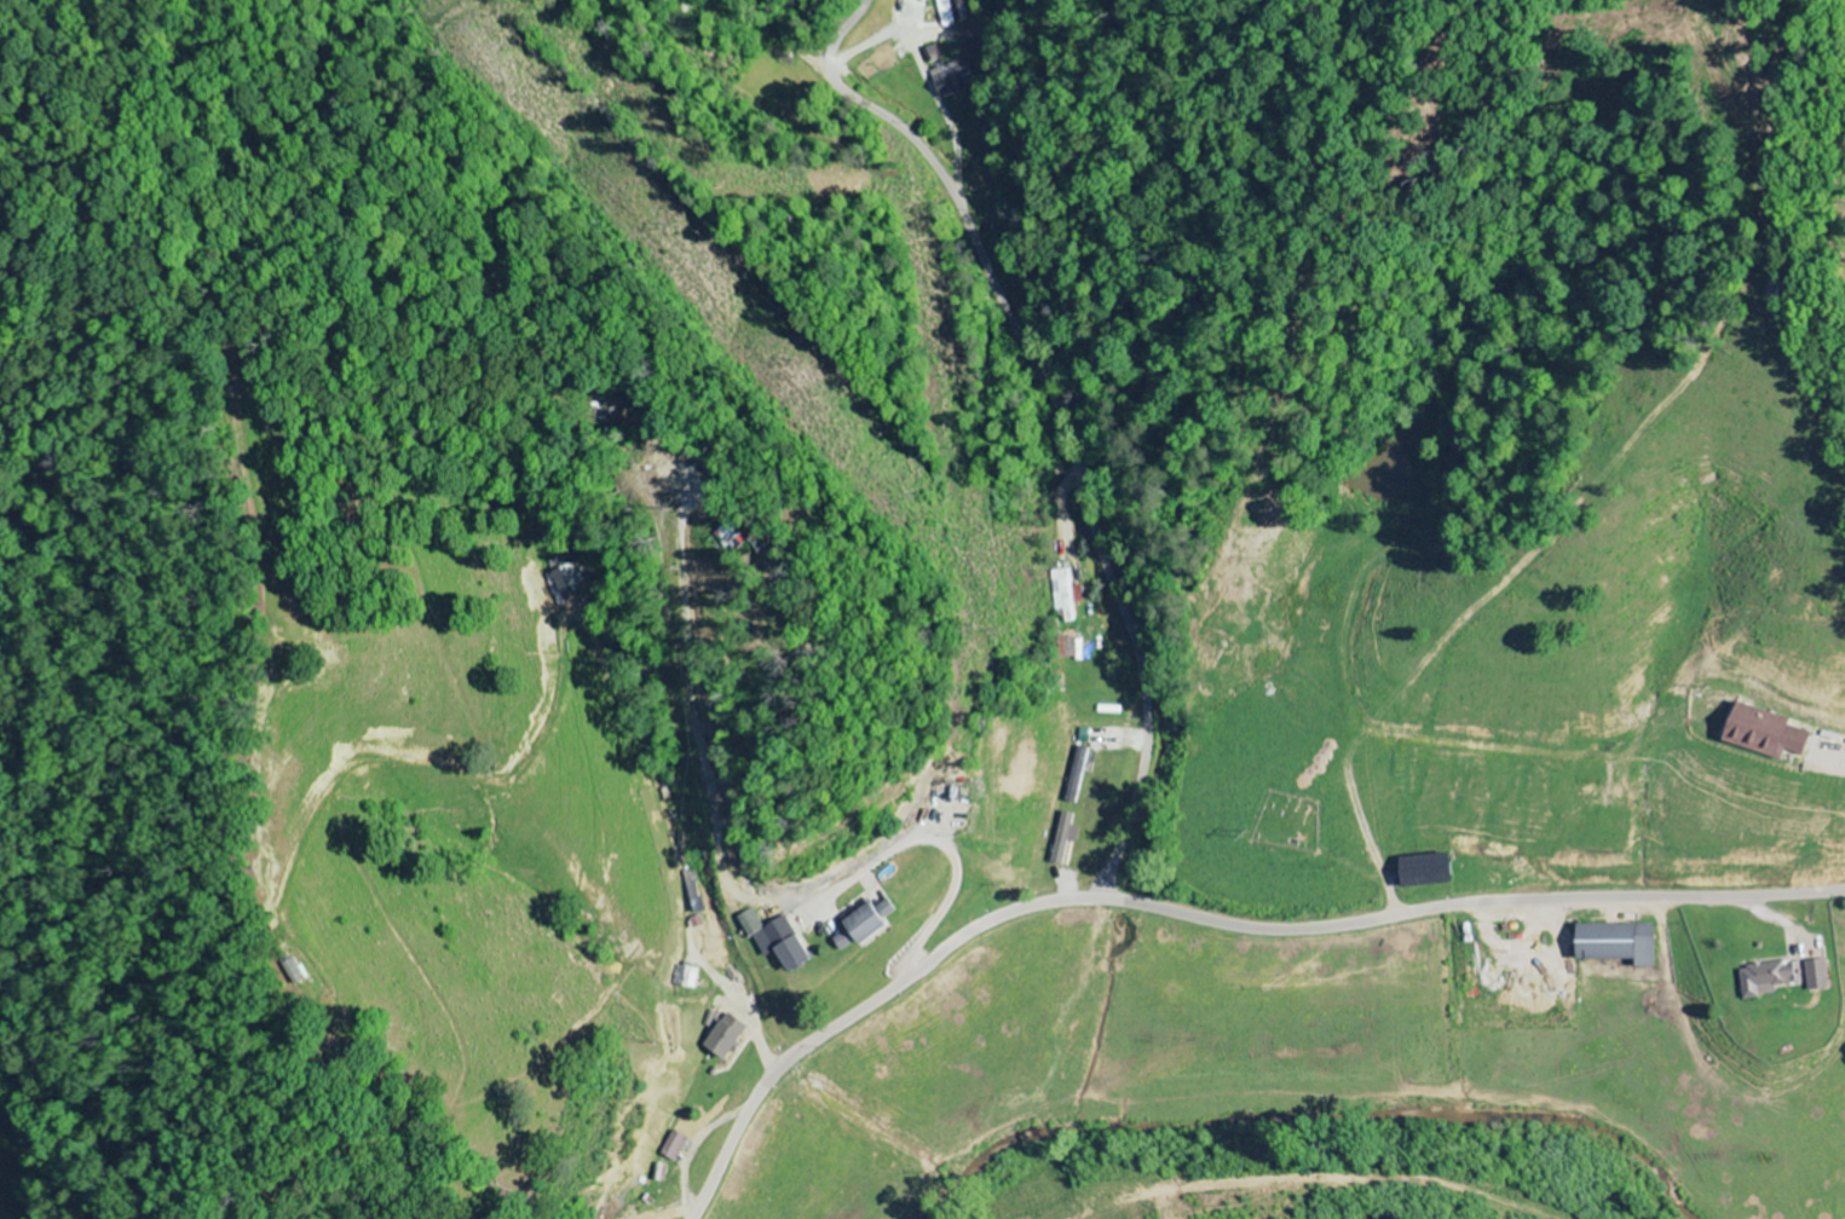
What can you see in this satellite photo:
building: (950, 12)
road: (779, 36)
power tower: (790, 360)
road: (1043, 420)
building: (734, 535)
building: (563, 582)
building: (1066, 594)
building: (1762, 732)
park: (1287, 820)
building: (1068, 837)
building: (1419, 870)
road: (1200, 917)
building: (872, 923)
building: (782, 938)
building: (1613, 942)
building: (1817, 974)
building: (1768, 977)
building: (733, 1035)
building: (678, 1145)
building: (662, 1171)

